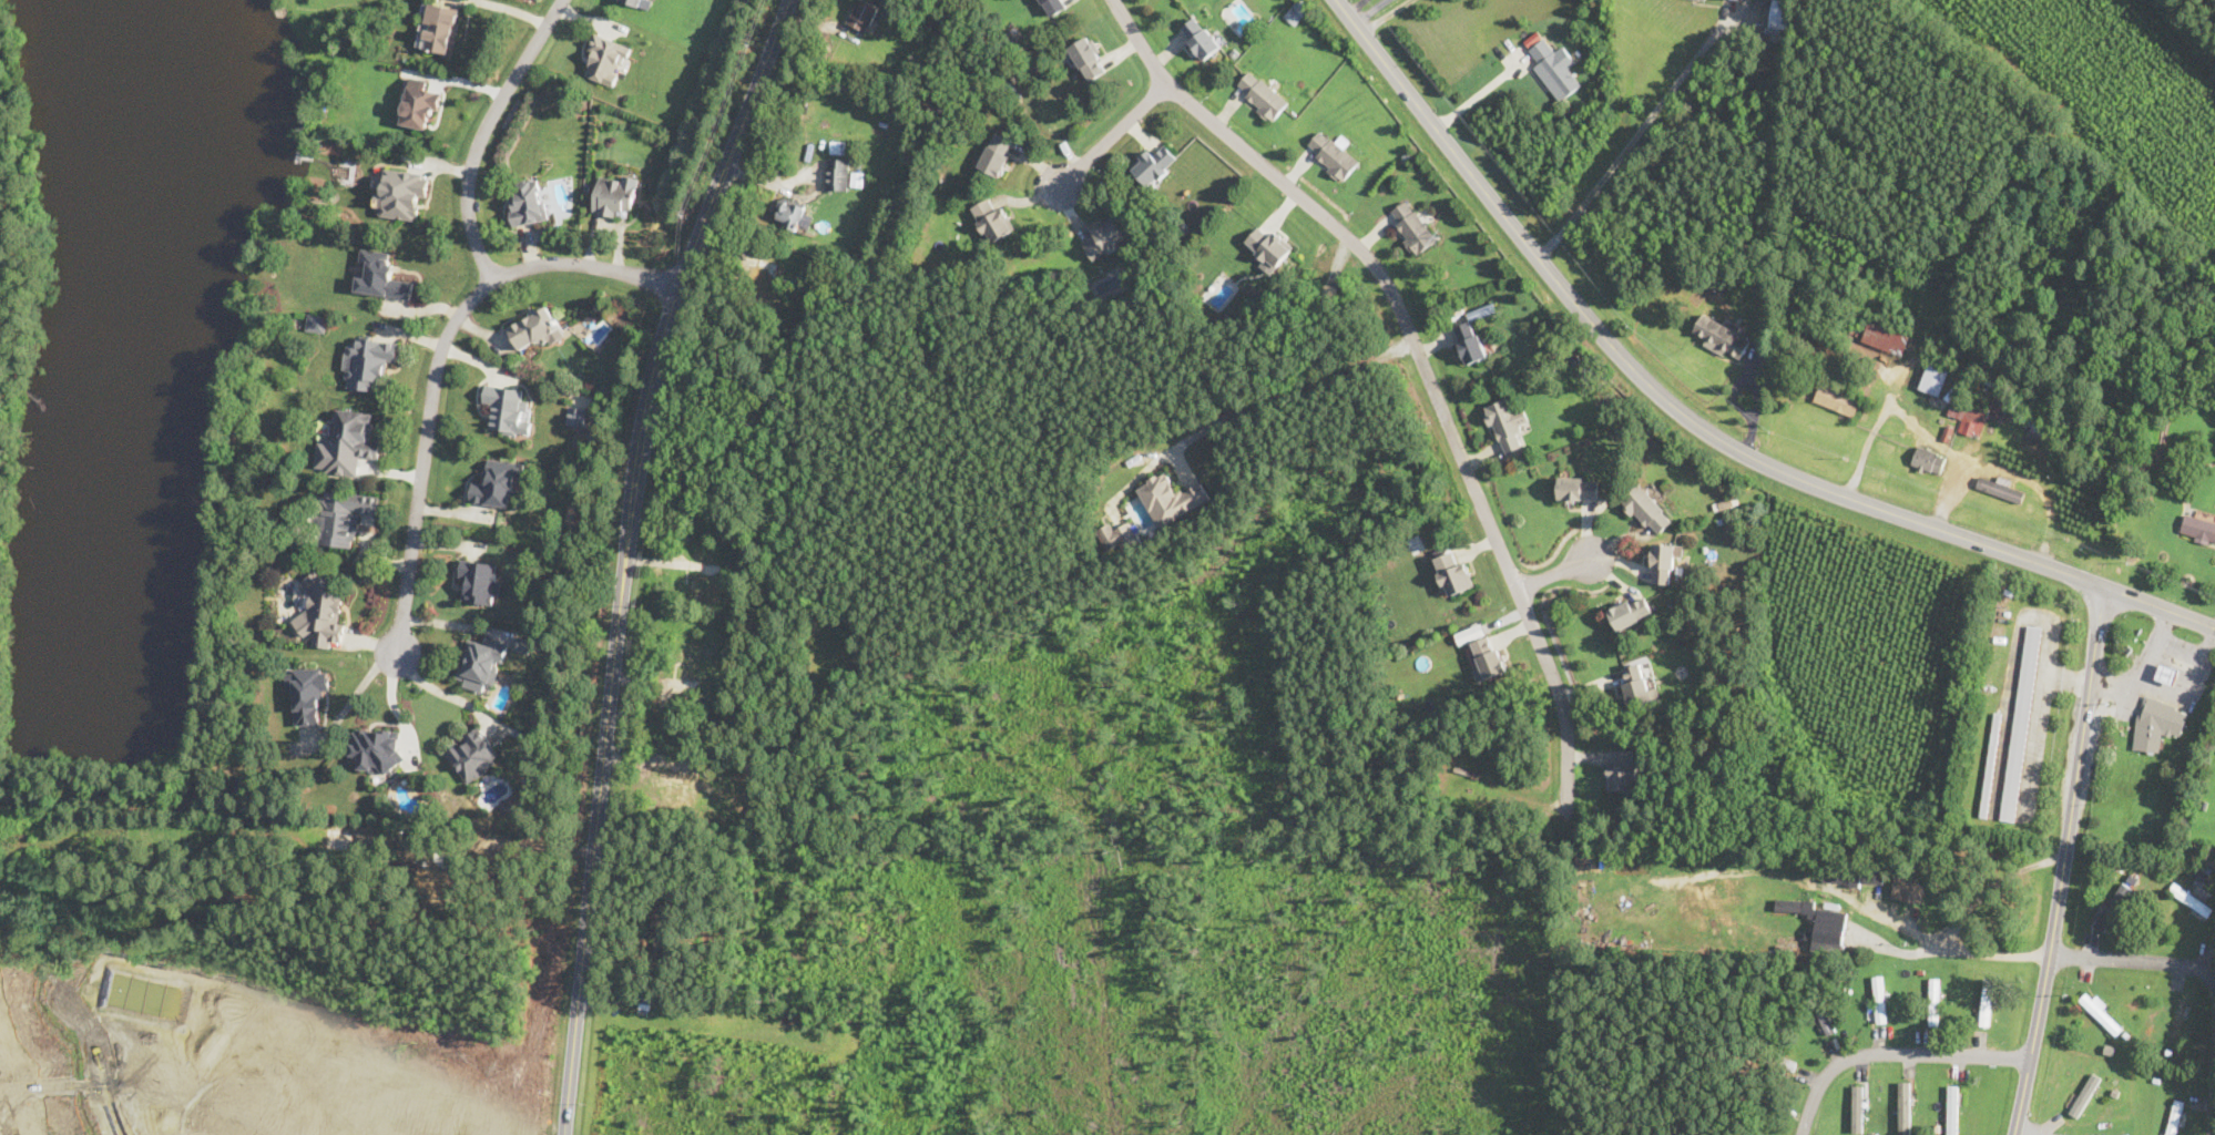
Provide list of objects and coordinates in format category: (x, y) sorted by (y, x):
building: (642, 3)
building: (1055, 4)
road: (1355, 6)
building: (1296, 10)
building: (1779, 13)
building: (864, 14)
building: (442, 28)
building: (1201, 37)
building: (1089, 57)
building: (608, 58)
building: (1554, 67)
building: (1260, 94)
road: (1480, 95)
building: (419, 103)
road: (483, 132)
road: (1113, 133)
road: (734, 143)
road: (1624, 146)
building: (997, 153)
building: (1331, 153)
building: (1154, 164)
building: (838, 173)
building: (400, 192)
building: (615, 196)
building: (528, 202)
building: (793, 212)
building: (992, 219)
building: (1410, 226)
building: (1104, 237)
building: (1268, 245)
building: (380, 275)
building: (767, 276)
building: (316, 323)
building: (534, 327)
road: (668, 328)
building: (1721, 335)
building: (1885, 336)
building: (1470, 340)
road: (438, 359)
road: (1422, 359)
building: (368, 361)
building: (1935, 378)
road: (1288, 390)
building: (1837, 398)
building: (508, 408)
building: (576, 415)
building: (1976, 415)
building: (1507, 423)
road: (1696, 423)
building: (2038, 429)
building: (348, 442)
building: (1928, 460)
building: (498, 482)
building: (2001, 487)
building: (1579, 488)
building: (1171, 499)
building: (1647, 510)
building: (340, 515)
building: (2198, 526)
building: (1117, 535)
building: (1663, 563)
building: (1452, 572)
road: (1553, 572)
building: (481, 581)
building: (323, 610)
building: (1630, 612)
building: (1470, 632)
building: (1489, 656)
road: (2176, 657)
building: (481, 662)
building: (2166, 674)
building: (1636, 685)
road: (2165, 685)
road: (359, 688)
building: (307, 691)
road: (445, 692)
road: (2120, 692)
building: (2020, 720)
building: (2156, 724)
building: (376, 748)
road: (603, 751)
building: (473, 754)
building: (1990, 765)
building: (1622, 769)
building: (682, 785)
building: (337, 838)
road: (2063, 860)
building: (1854, 875)
building: (441, 883)
building: (1907, 886)
building: (2191, 899)
building: (2114, 907)
building: (1819, 924)
road: (1925, 932)
road: (2135, 961)
building: (1878, 999)
building: (1935, 1000)
building: (1986, 1001)
building: (1821, 1011)
building: (2101, 1013)
building: (2177, 1019)
road: (1891, 1052)
building: (1773, 1056)
building: (2083, 1095)
road: (2213, 1107)
building: (1857, 1108)
building: (1905, 1108)
building: (1952, 1108)
building: (2175, 1116)
building: (2122, 1134)

